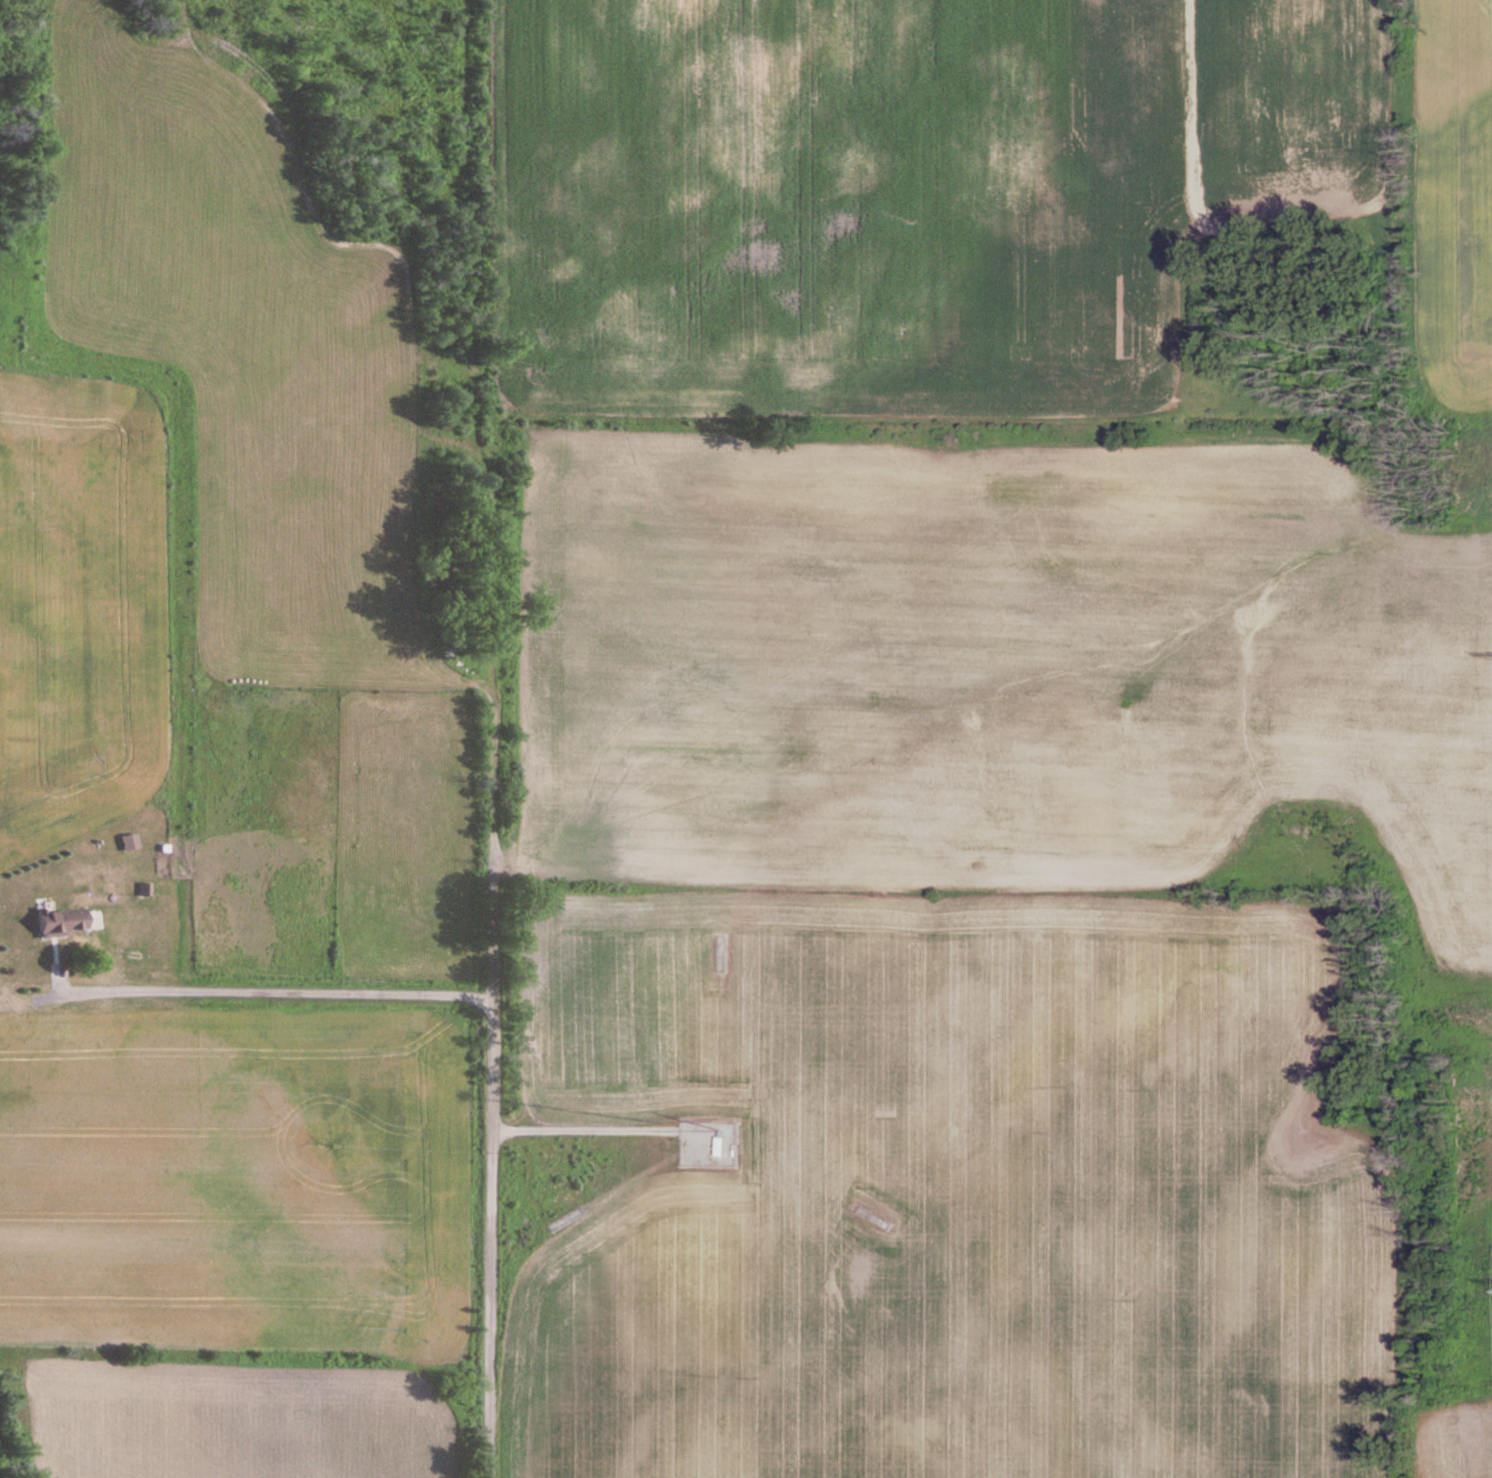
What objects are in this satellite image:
building: (131, 843)
building: (65, 921)
road: (276, 992)
building: (721, 1148)
road: (492, 1239)

